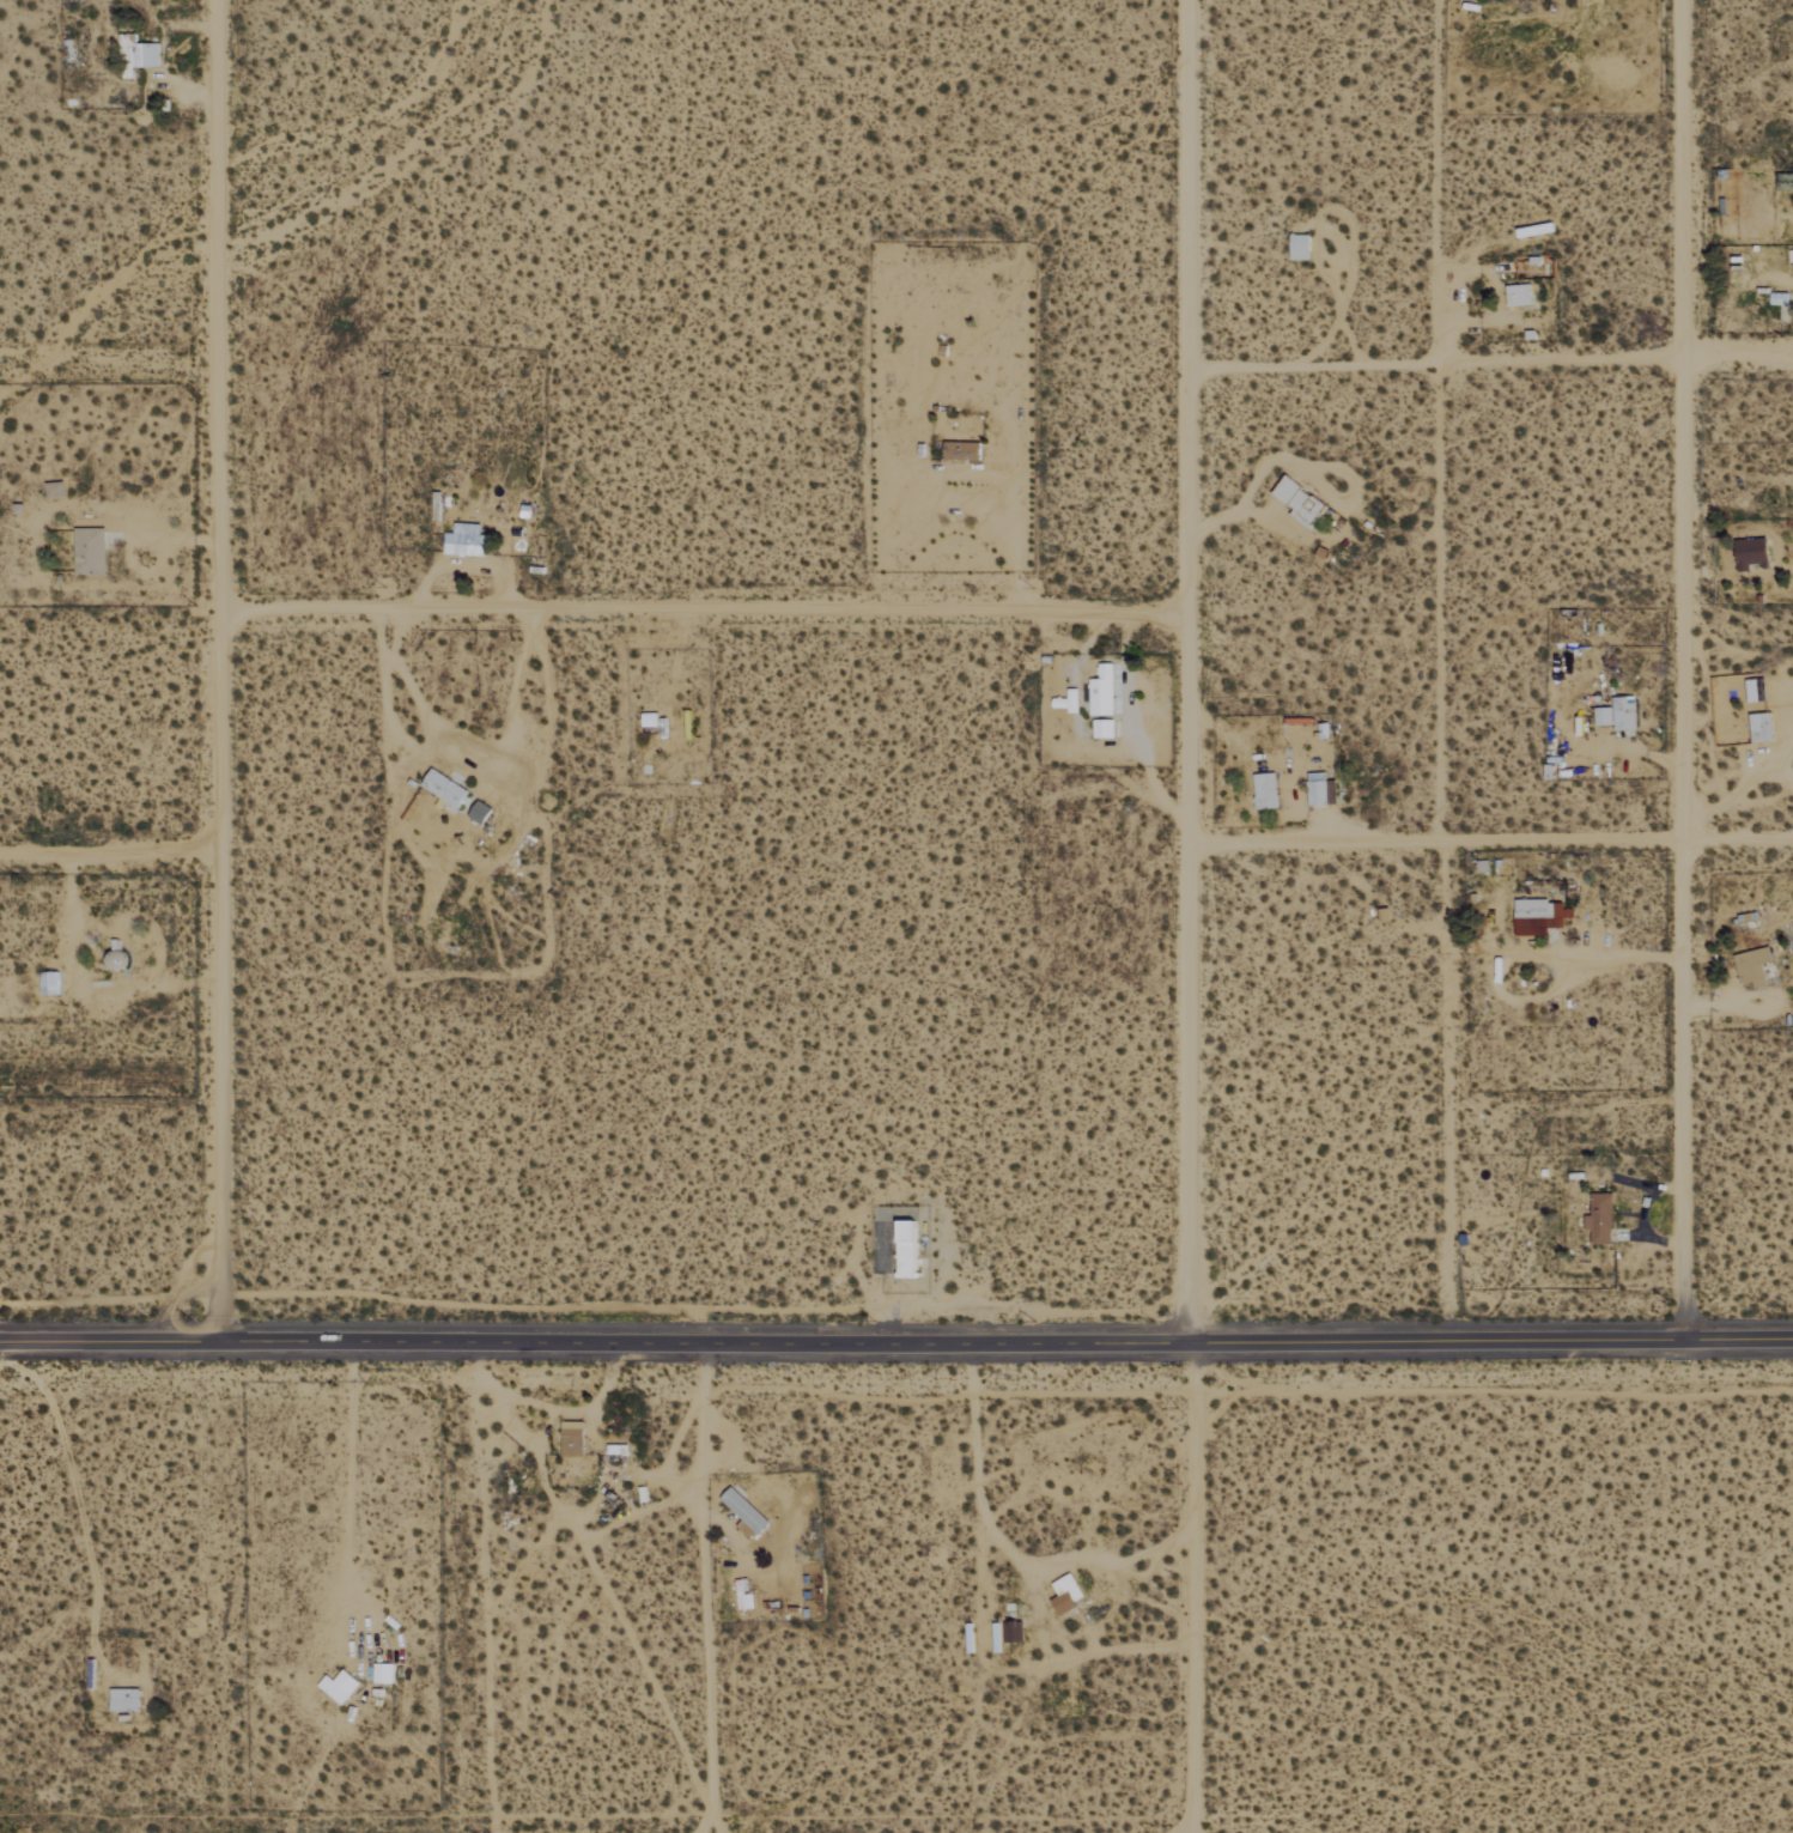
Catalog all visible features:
building: (139, 55)
road: (215, 305)
road: (1491, 366)
building: (961, 450)
building: (55, 490)
building: (1300, 503)
building: (466, 541)
building: (90, 552)
building: (1751, 553)
road: (698, 612)
road: (1682, 669)
road: (1183, 670)
building: (1101, 692)
building: (1069, 702)
building: (1618, 714)
building: (1104, 729)
road: (218, 736)
building: (444, 789)
building: (1321, 790)
building: (1265, 791)
building: (480, 813)
road: (1487, 839)
road: (110, 861)
building: (1539, 917)
building: (1754, 966)
building: (49, 983)
road: (219, 1101)
building: (1600, 1219)
building: (908, 1250)
road: (1490, 1337)
road: (594, 1343)
building: (572, 1439)
building: (744, 1513)
road: (1189, 1588)
road: (707, 1589)
building: (1066, 1594)
building: (744, 1603)
building: (1013, 1632)
building: (383, 1673)
building: (339, 1686)
building: (124, 1699)

